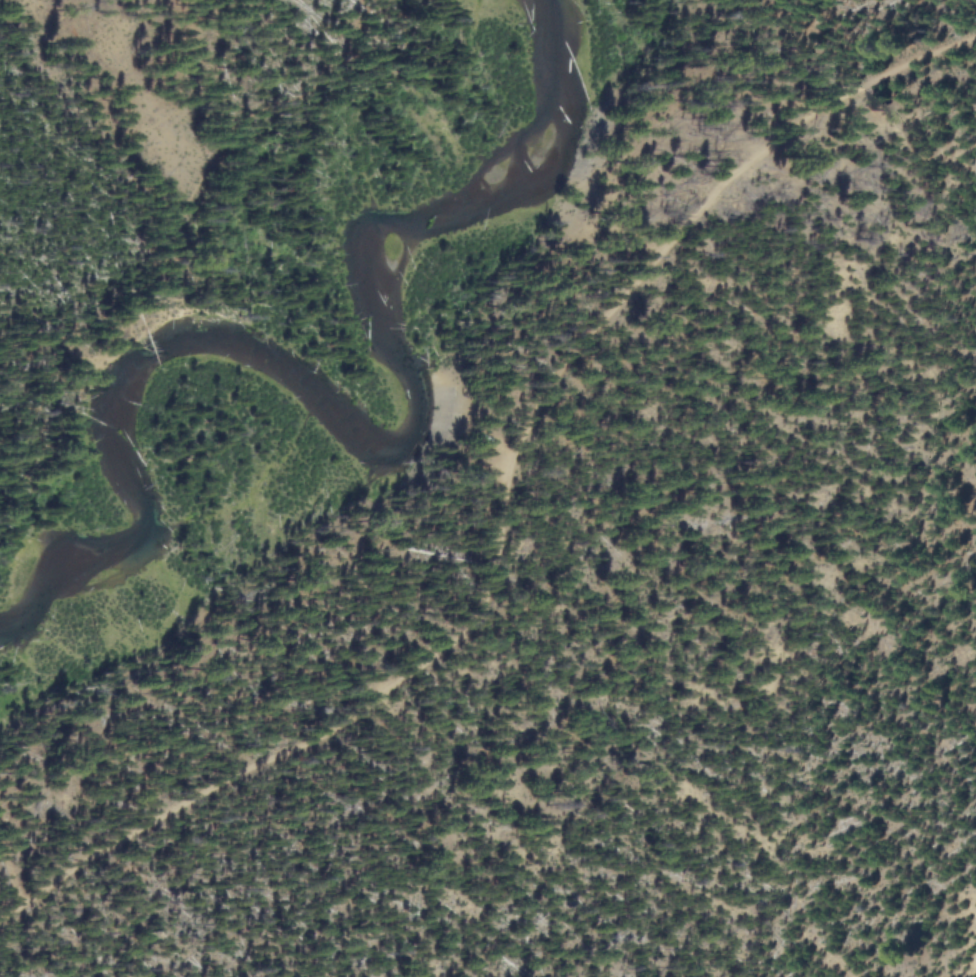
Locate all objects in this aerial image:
river: (351, 418)
road: (482, 508)

